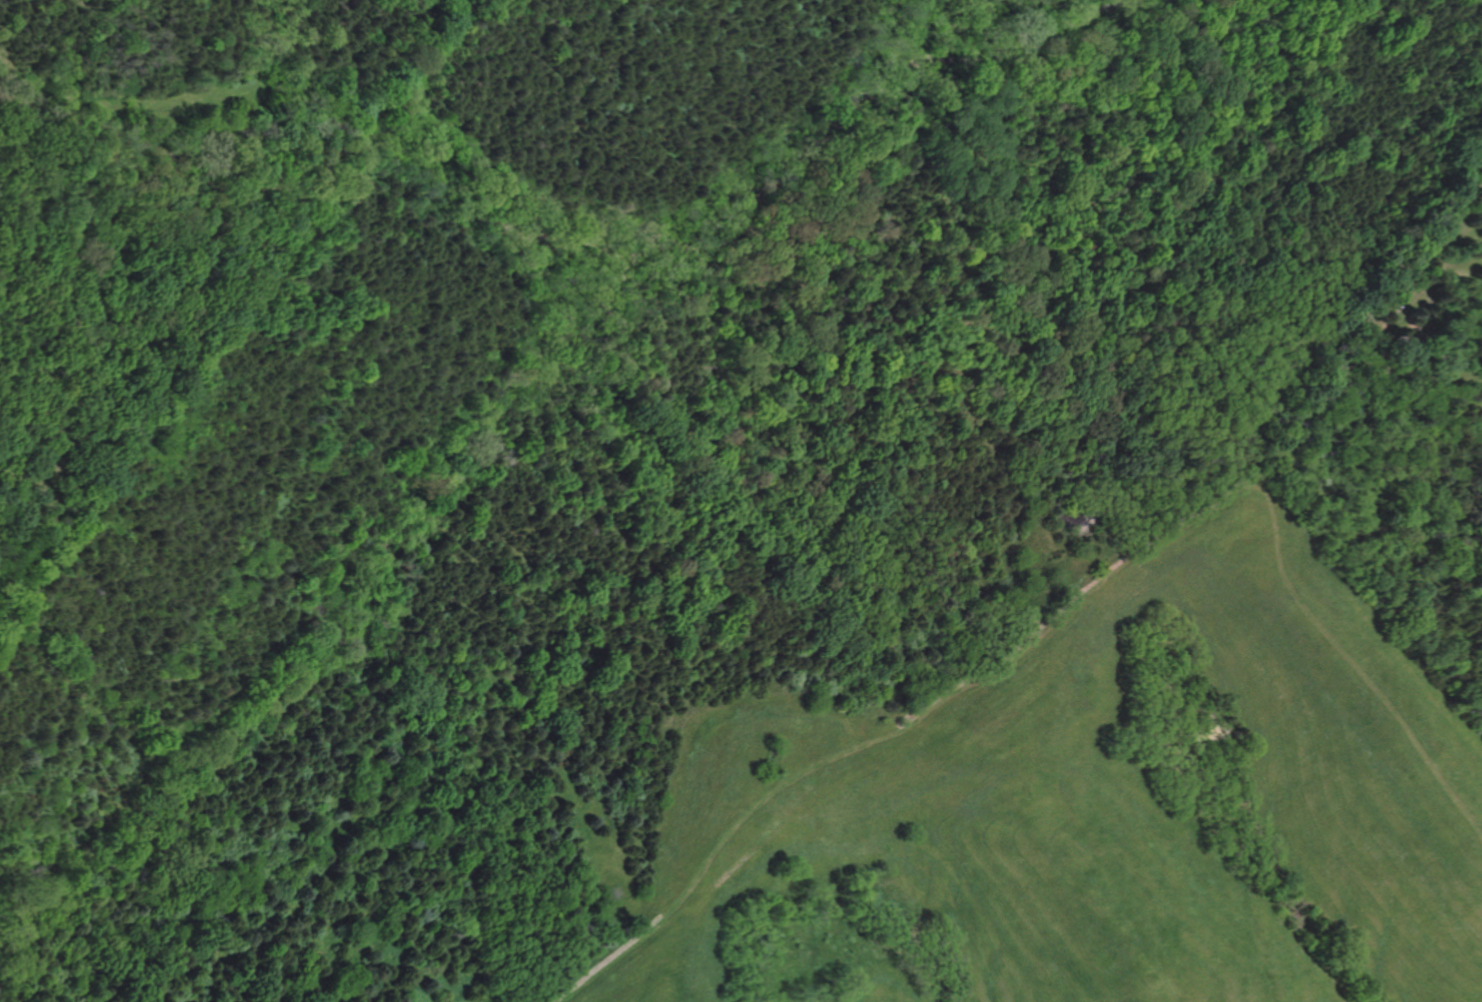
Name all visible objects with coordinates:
road: (1428, 303)
building: (1402, 342)

